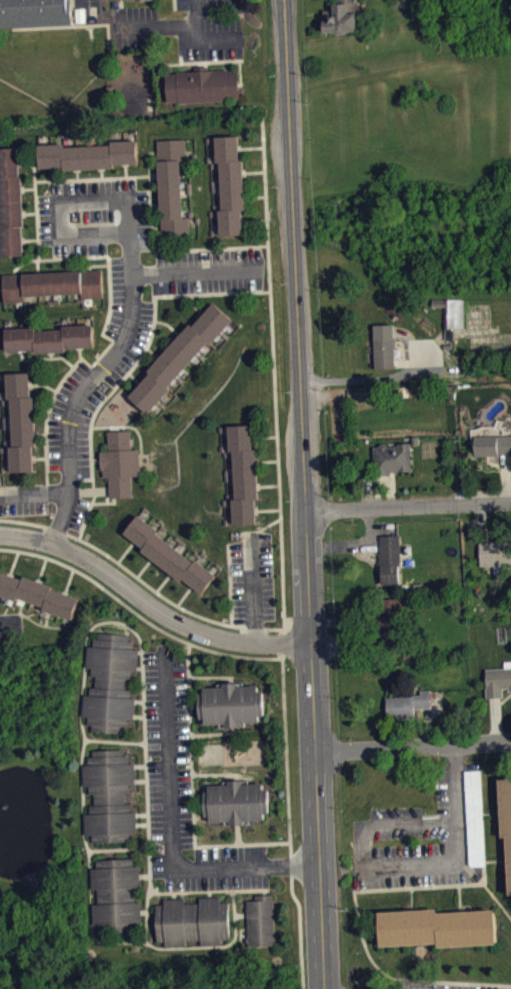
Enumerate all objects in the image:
building: (141, 3)
building: (35, 13)
building: (341, 17)
road: (168, 23)
parking lot: (185, 27)
road: (212, 39)
road: (189, 40)
building: (203, 84)
road: (250, 147)
building: (88, 154)
road: (126, 169)
road: (254, 171)
road: (52, 172)
road: (102, 172)
road: (77, 173)
road: (155, 175)
road: (85, 177)
building: (231, 185)
road: (28, 187)
building: (172, 189)
road: (150, 194)
road: (255, 196)
building: (11, 202)
road: (30, 211)
parking lot: (95, 216)
road: (254, 220)
road: (37, 226)
road: (157, 226)
road: (30, 238)
road: (187, 247)
road: (23, 263)
road: (96, 264)
parking lot: (208, 270)
road: (197, 272)
building: (52, 283)
road: (199, 293)
road: (110, 295)
road: (135, 300)
road: (194, 305)
building: (450, 309)
road: (155, 320)
building: (49, 338)
building: (383, 344)
road: (142, 352)
road: (50, 354)
building: (179, 356)
road: (44, 357)
parking lot: (99, 370)
road: (391, 375)
road: (43, 384)
road: (111, 390)
road: (48, 409)
building: (21, 420)
road: (96, 426)
road: (40, 432)
road: (264, 436)
building: (492, 444)
road: (39, 457)
building: (391, 458)
road: (266, 460)
building: (119, 463)
building: (243, 473)
road: (87, 477)
road: (268, 485)
road: (93, 494)
road: (305, 494)
road: (33, 495)
parking lot: (22, 499)
road: (408, 506)
road: (89, 508)
road: (267, 508)
road: (280, 529)
road: (250, 530)
road: (125, 551)
building: (495, 552)
building: (168, 554)
building: (389, 558)
road: (13, 562)
road: (142, 567)
building: (510, 567)
road: (41, 569)
parking lot: (252, 578)
road: (68, 580)
road: (163, 581)
road: (229, 584)
road: (252, 587)
building: (37, 593)
road: (184, 595)
road: (152, 604)
road: (7, 605)
road: (21, 605)
road: (34, 612)
road: (139, 615)
road: (47, 618)
road: (35, 621)
building: (391, 621)
road: (10, 624)
parking lot: (10, 627)
road: (139, 667)
building: (510, 674)
road: (142, 676)
road: (212, 676)
building: (110, 681)
building: (497, 689)
road: (82, 693)
road: (144, 703)
building: (231, 703)
building: (407, 704)
road: (213, 732)
road: (414, 747)
road: (286, 755)
road: (139, 764)
road: (216, 773)
road: (140, 780)
parking lot: (183, 791)
road: (192, 791)
building: (109, 795)
building: (236, 802)
road: (489, 811)
road: (141, 814)
building: (506, 819)
road: (142, 823)
building: (476, 825)
road: (368, 831)
road: (171, 833)
road: (238, 833)
parking lot: (424, 836)
road: (114, 849)
road: (151, 868)
road: (145, 875)
road: (440, 886)
road: (264, 888)
road: (193, 890)
road: (211, 893)
building: (117, 894)
road: (175, 894)
road: (459, 897)
road: (411, 898)
road: (497, 901)
road: (242, 914)
building: (261, 919)
building: (193, 920)
road: (299, 920)
road: (148, 926)
building: (437, 926)
road: (149, 942)
road: (394, 976)
parking lot: (442, 986)

